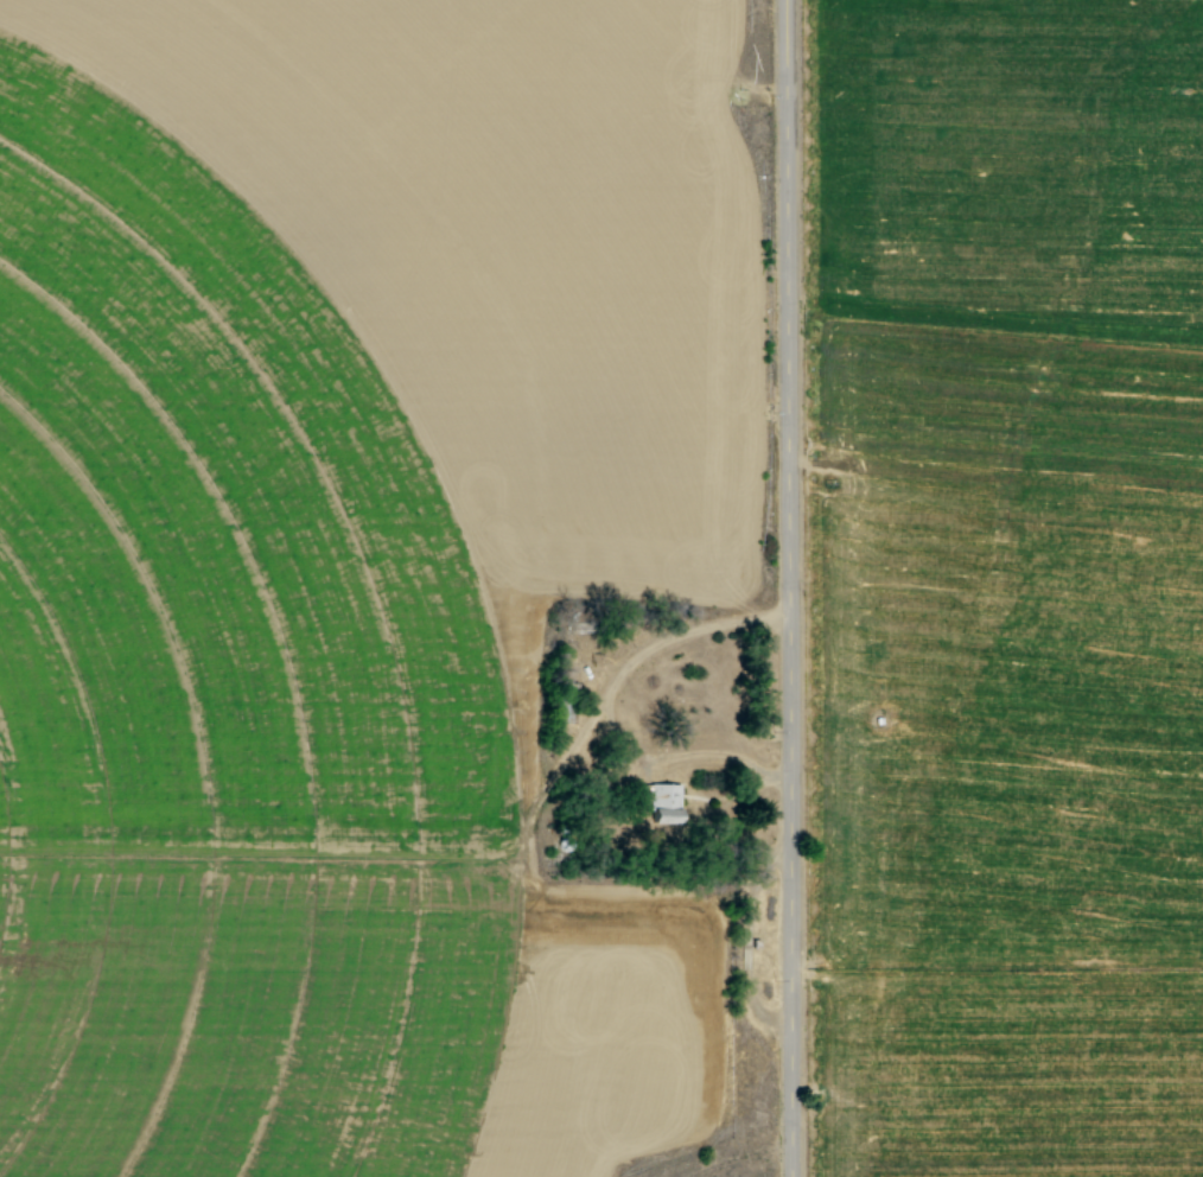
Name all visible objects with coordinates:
road: (782, 587)
building: (666, 802)

